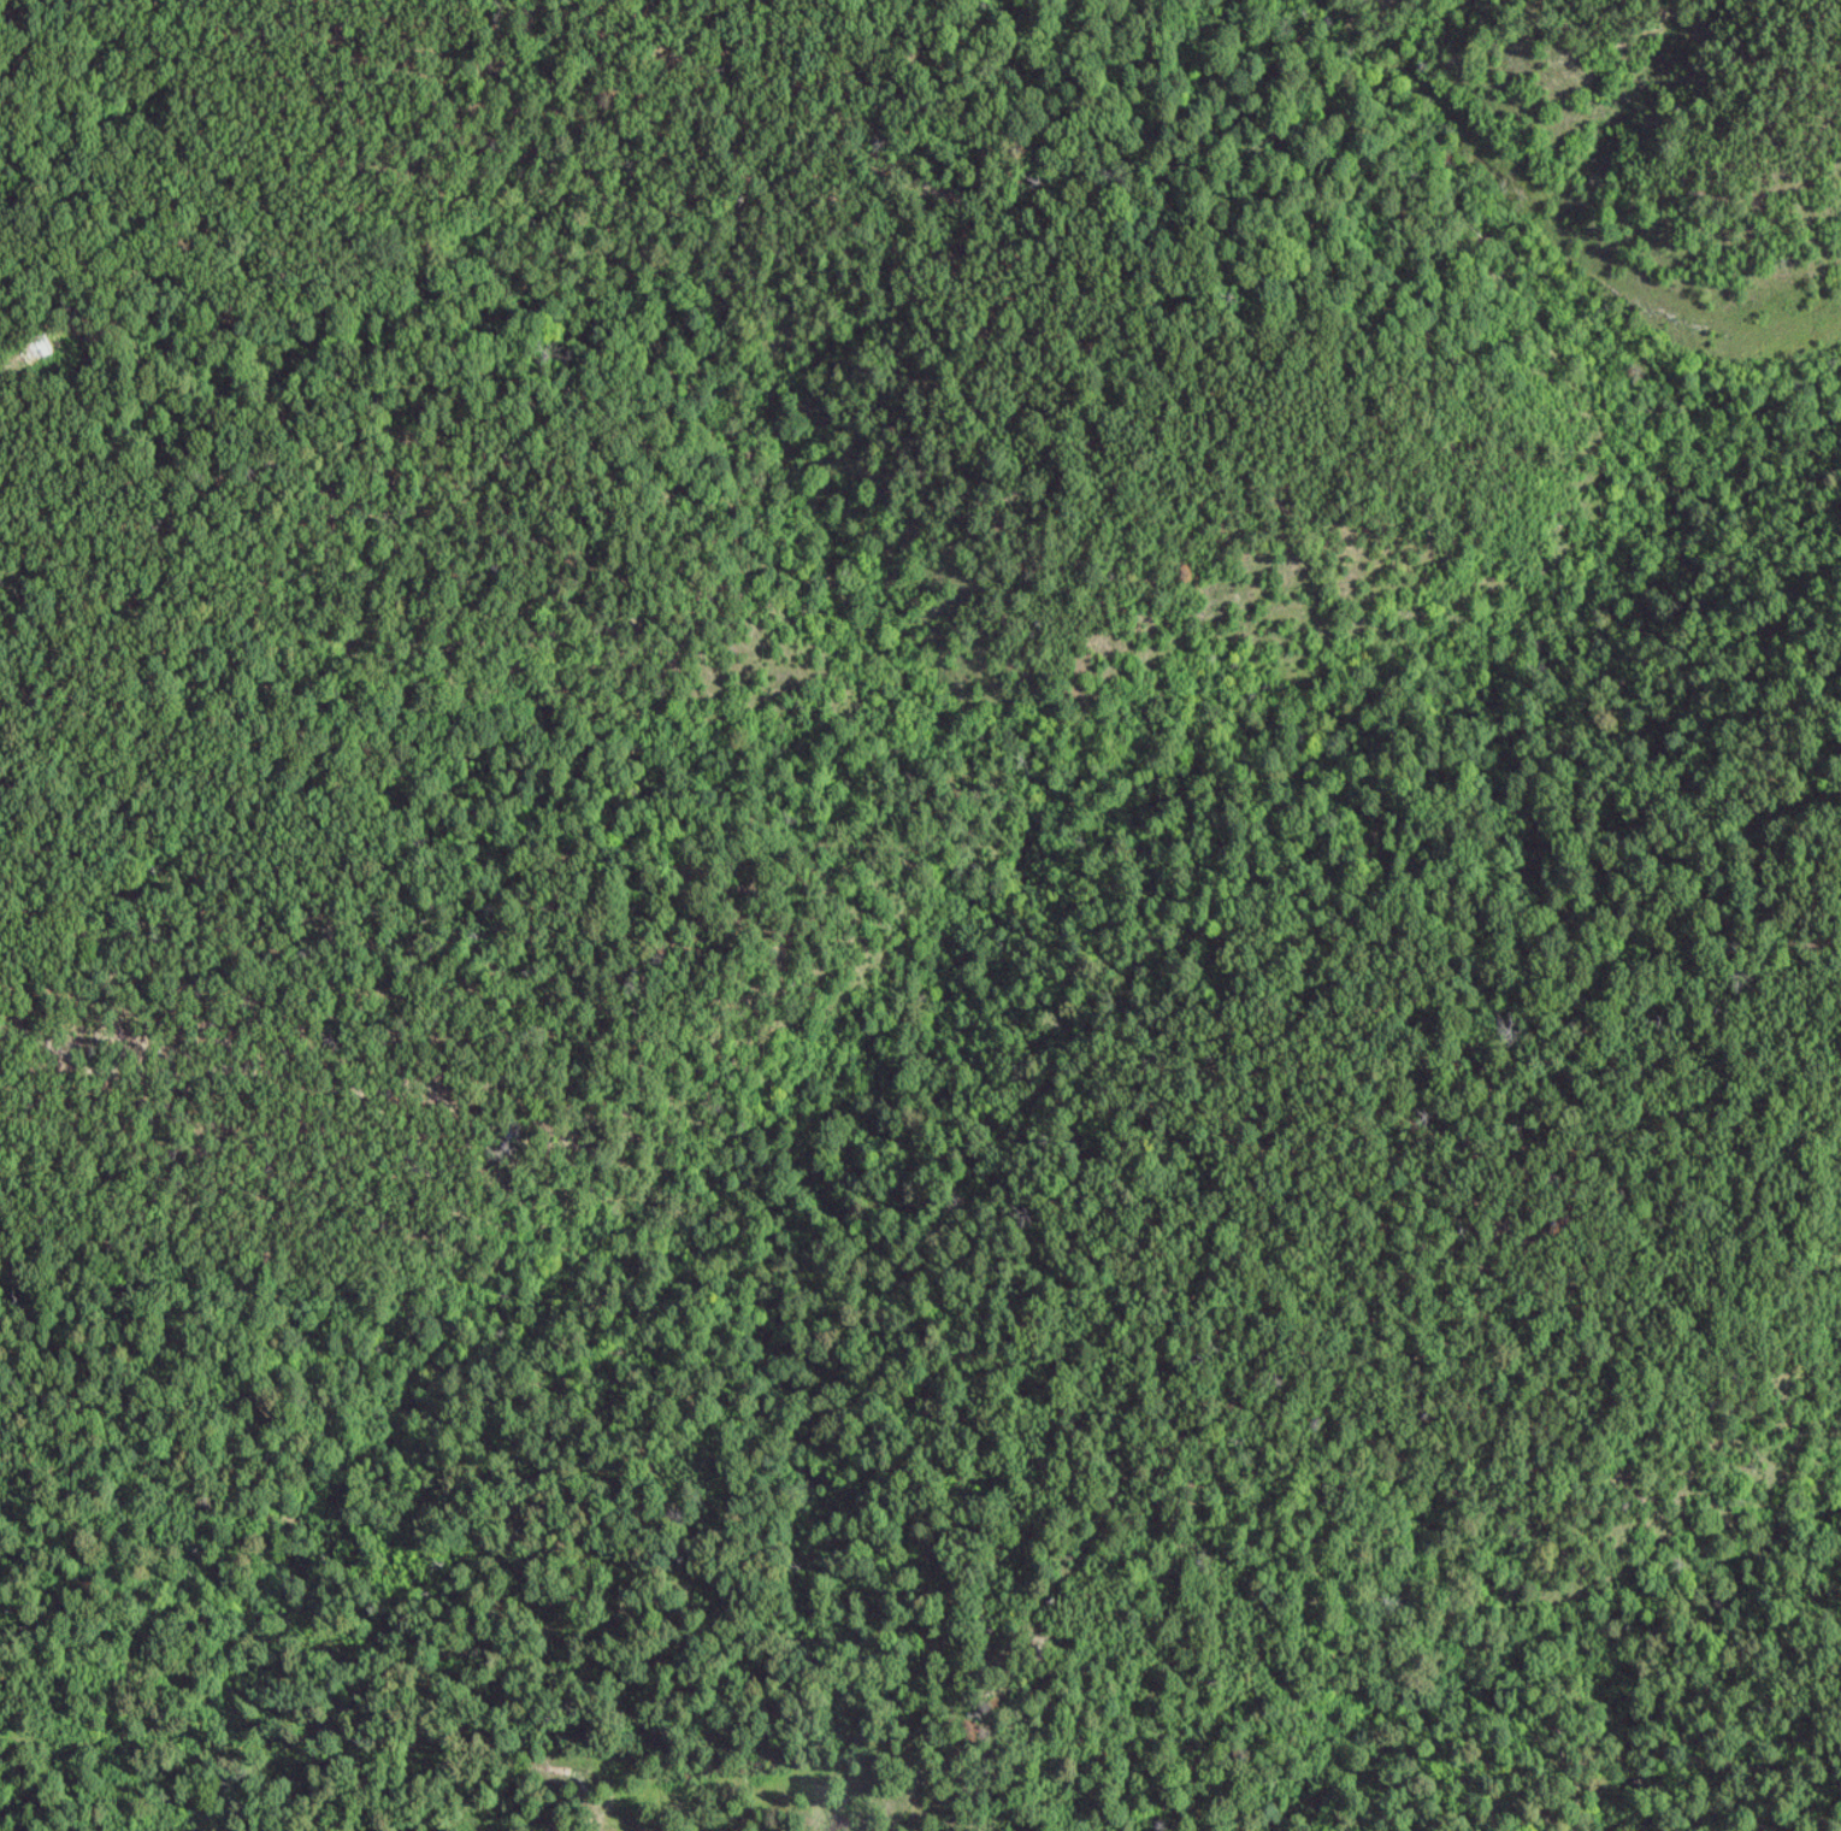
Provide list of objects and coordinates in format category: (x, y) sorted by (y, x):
road: (588, 683)

